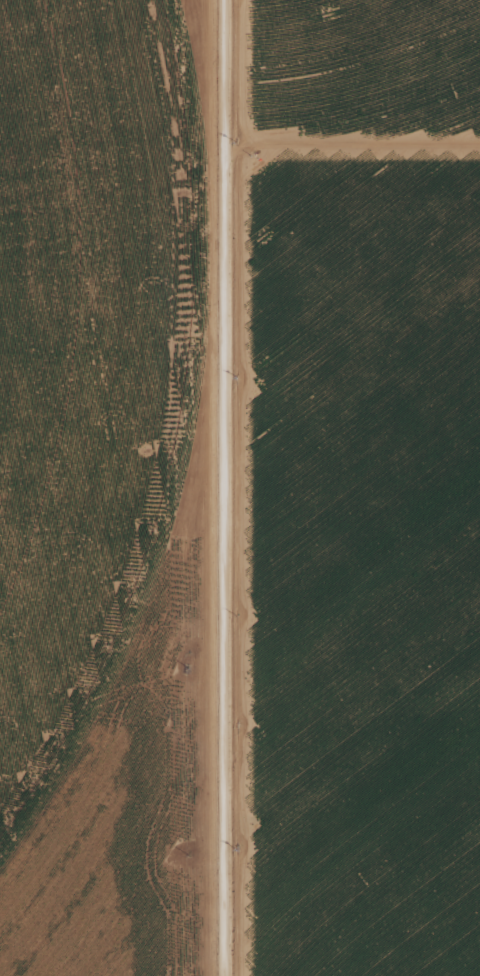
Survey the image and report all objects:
road: (222, 488)

